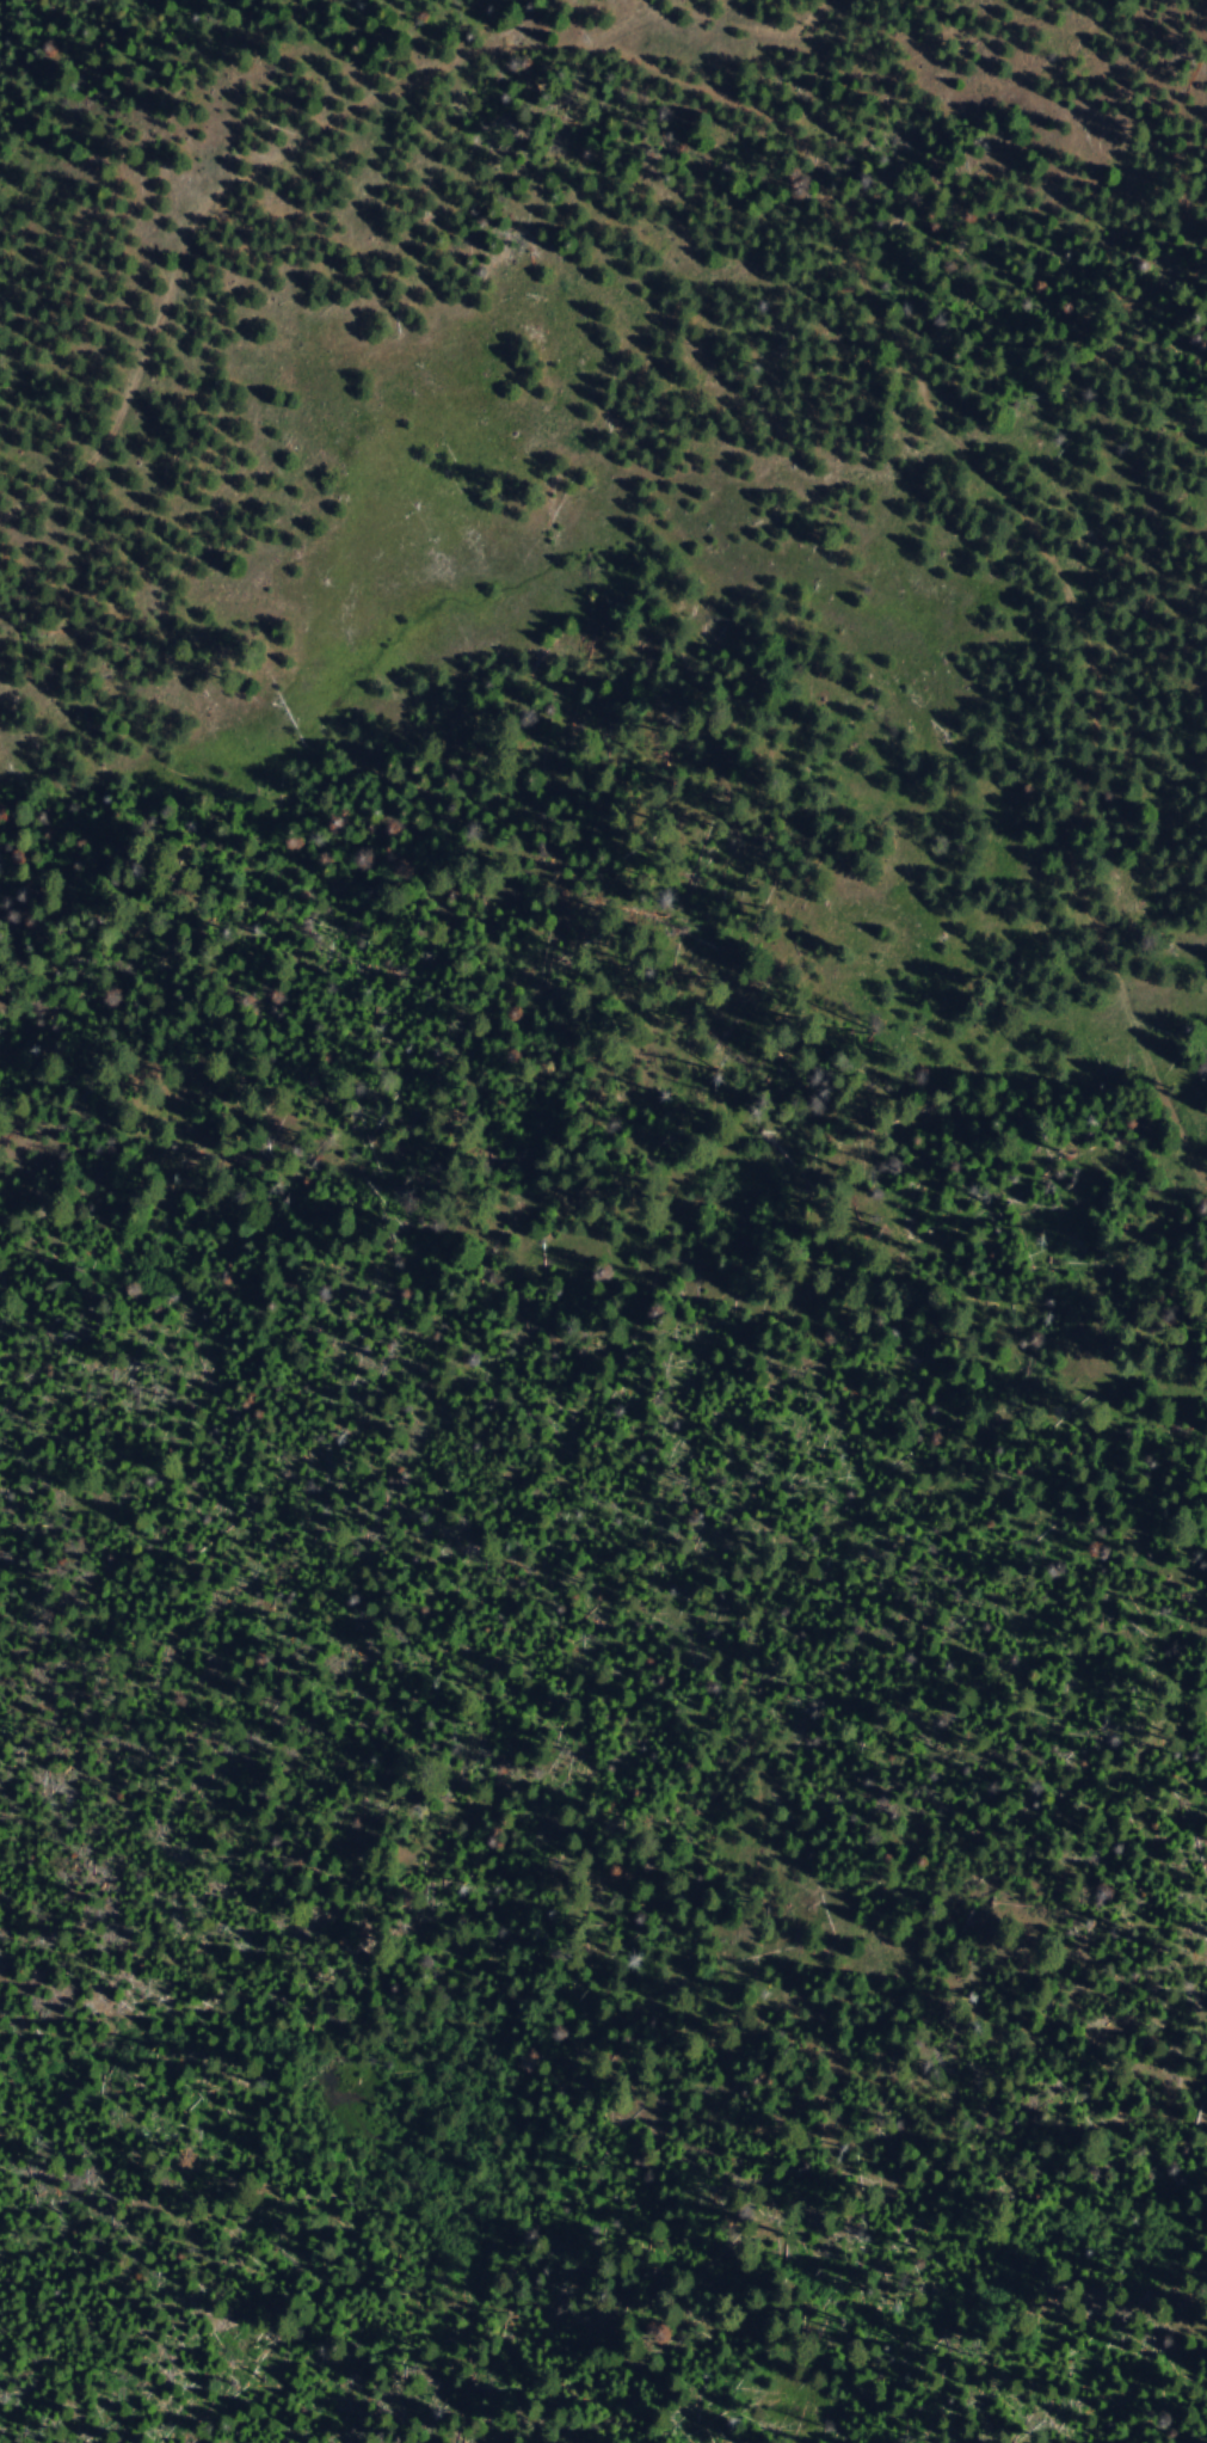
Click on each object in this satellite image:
road: (698, 20)
road: (808, 208)

